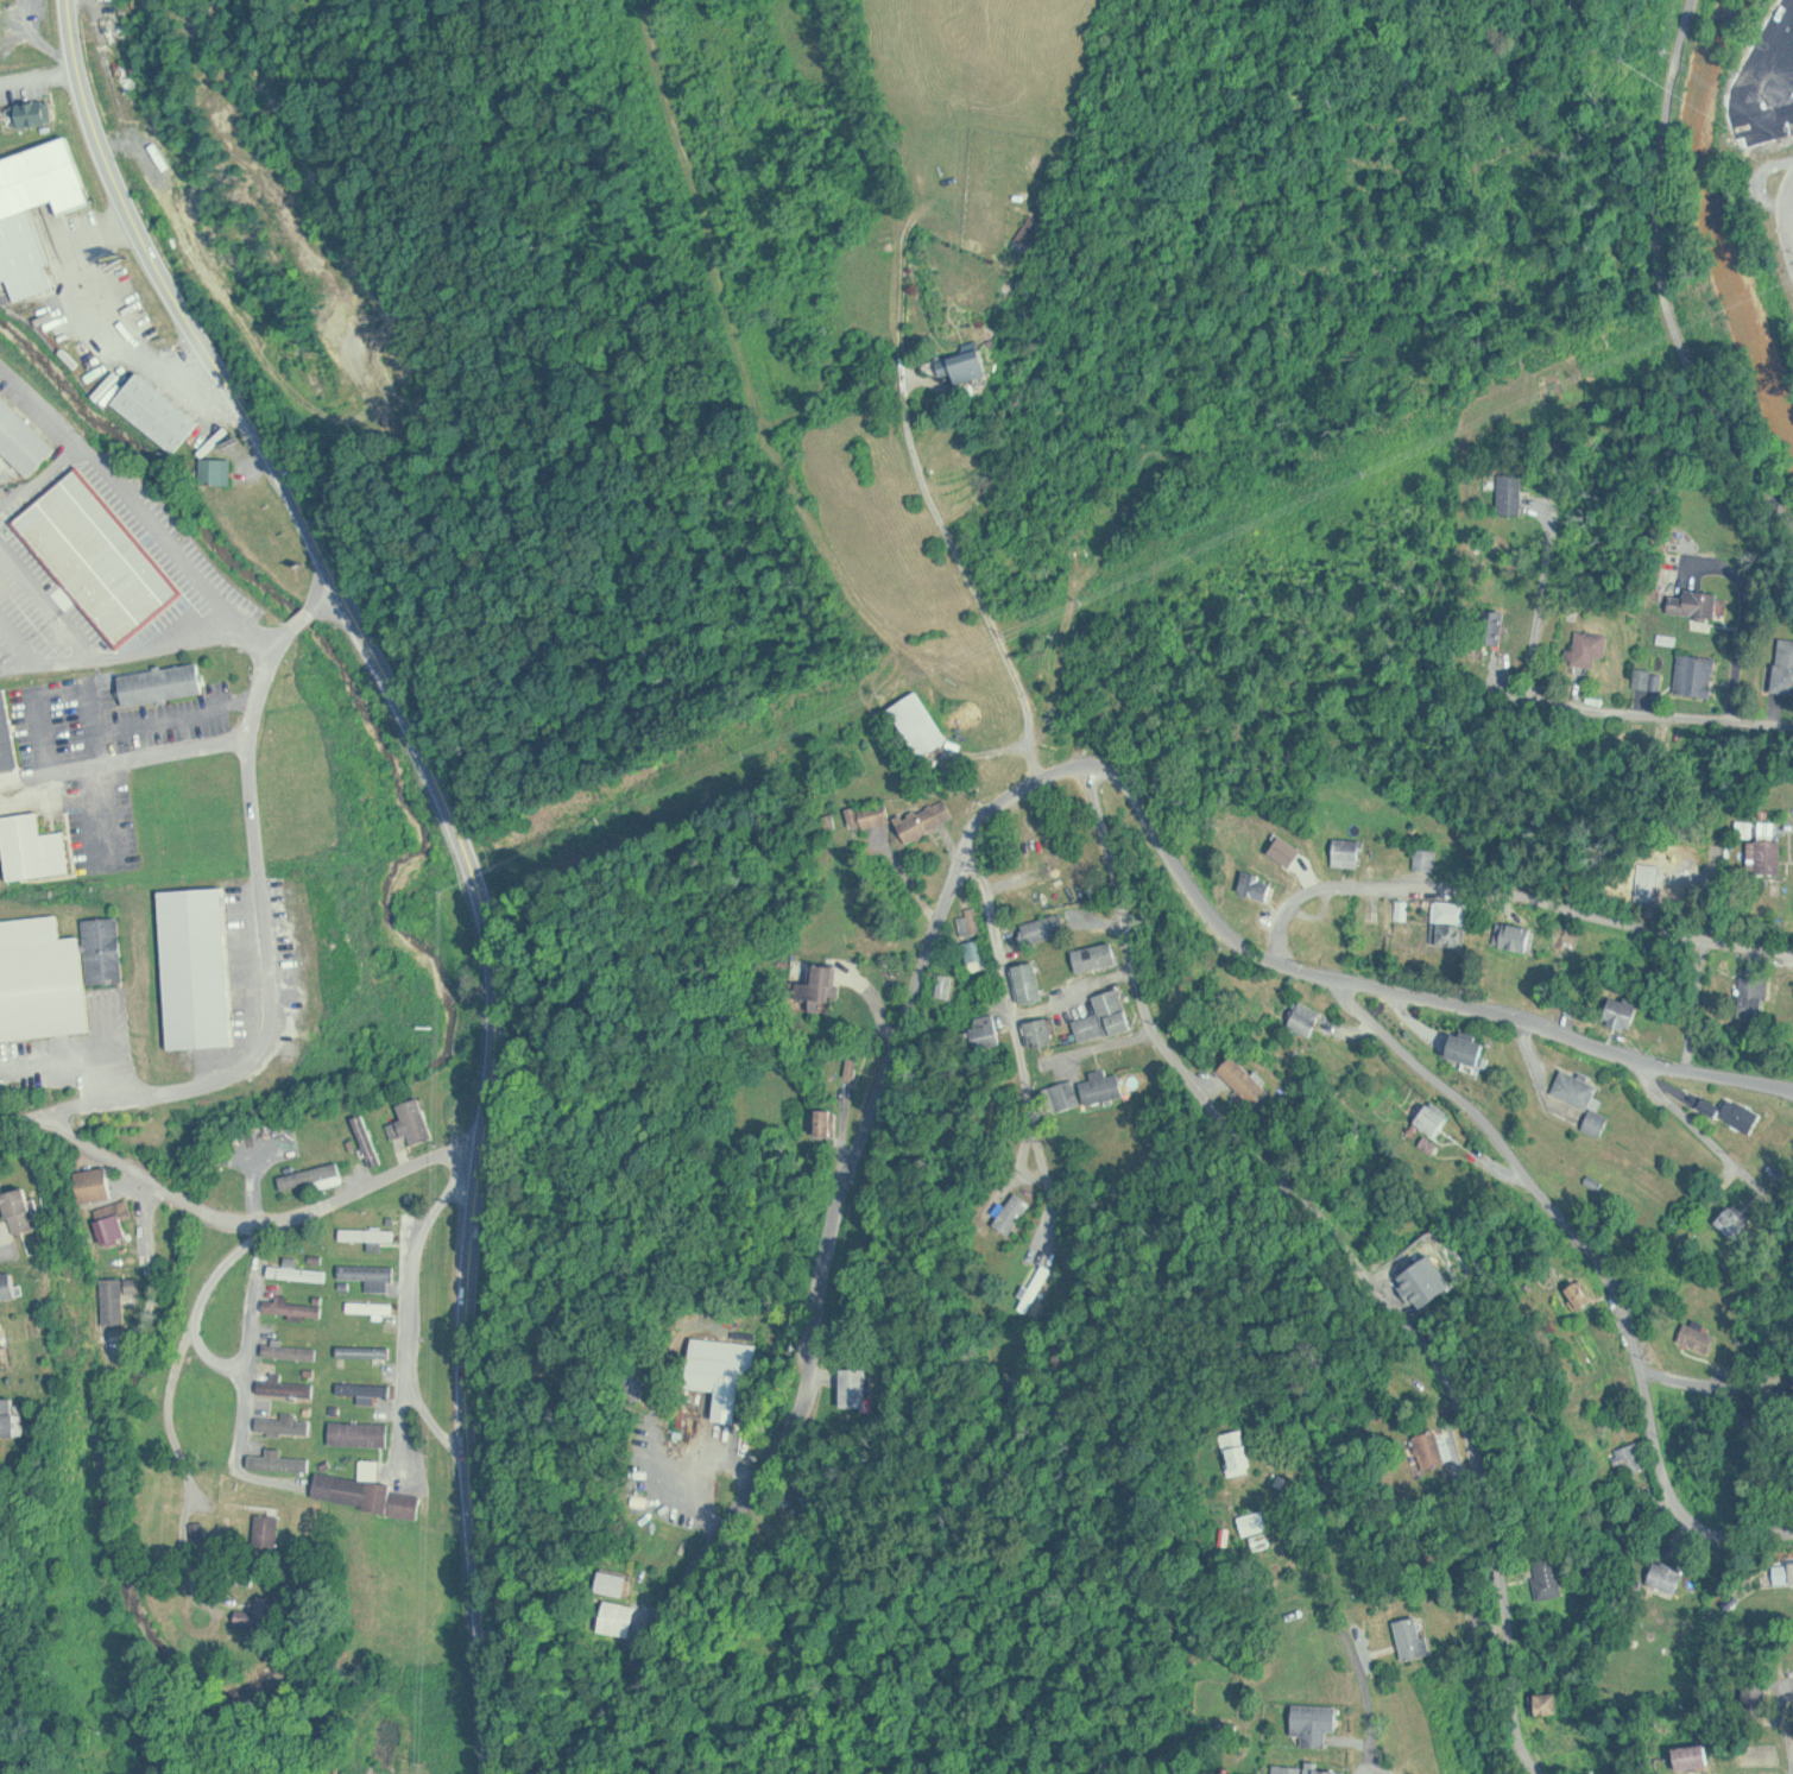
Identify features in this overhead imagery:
building: (0, 13)
building: (37, 113)
river: (1712, 190)
road: (1791, 217)
building: (23, 244)
road: (1663, 277)
building: (966, 362)
building: (159, 410)
building: (24, 436)
building: (220, 469)
building: (1514, 492)
building: (101, 556)
building: (1697, 602)
road: (981, 605)
building: (1498, 626)
building: (1591, 648)
road: (1742, 656)
building: (1785, 664)
building: (1699, 675)
building: (163, 682)
road: (1667, 719)
building: (921, 722)
building: (7, 732)
building: (877, 813)
building: (929, 819)
road: (463, 844)
building: (36, 846)
building: (1351, 848)
building: (1696, 852)
building: (1768, 856)
building: (1429, 858)
road: (957, 873)
building: (1264, 886)
building: (1065, 895)
road: (1513, 897)
building: (1452, 916)
building: (973, 923)
road: (265, 924)
building: (1046, 928)
building: (1521, 936)
building: (1338, 946)
building: (106, 948)
building: (980, 953)
building: (1098, 957)
building: (200, 966)
building: (42, 979)
building: (1031, 981)
building: (826, 985)
road: (1010, 996)
building: (1757, 997)
road: (1700, 1008)
building: (1624, 1012)
building: (1107, 1016)
building: (1308, 1017)
road: (1151, 1021)
building: (990, 1030)
building: (1043, 1031)
building: (1469, 1049)
building: (1245, 1081)
building: (1106, 1087)
building: (1579, 1087)
building: (1065, 1096)
building: (1736, 1112)
building: (1435, 1119)
building: (829, 1120)
building: (416, 1122)
building: (1599, 1122)
road: (1717, 1143)
road: (89, 1145)
building: (314, 1175)
road: (399, 1175)
building: (97, 1183)
road: (191, 1204)
building: (21, 1210)
building: (1017, 1213)
road: (1566, 1216)
building: (1737, 1219)
building: (115, 1220)
road: (259, 1223)
building: (372, 1233)
building: (301, 1270)
building: (374, 1274)
building: (8, 1284)
building: (1584, 1293)
building: (119, 1300)
building: (296, 1306)
building: (374, 1306)
road: (415, 1309)
road: (192, 1337)
building: (1700, 1337)
building: (2, 1343)
building: (293, 1349)
building: (367, 1350)
road: (1437, 1352)
road: (213, 1362)
road: (251, 1365)
building: (727, 1372)
building: (638, 1383)
road: (1688, 1383)
building: (289, 1385)
building: (860, 1385)
building: (370, 1389)
road: (406, 1409)
building: (8, 1416)
building: (286, 1425)
building: (364, 1433)
building: (1433, 1450)
building: (1239, 1452)
building: (1634, 1458)
building: (282, 1462)
building: (368, 1491)
building: (1256, 1522)
building: (271, 1530)
road: (1741, 1535)
building: (1792, 1564)
building: (1551, 1576)
building: (1671, 1577)
building: (617, 1583)
road: (1336, 1590)
building: (620, 1617)
building: (1414, 1637)
building: (1757, 1699)
building: (1549, 1704)
building: (1317, 1723)
building: (1694, 1756)
road: (1383, 1763)
building: (1290, 1768)
building: (1332, 1772)

